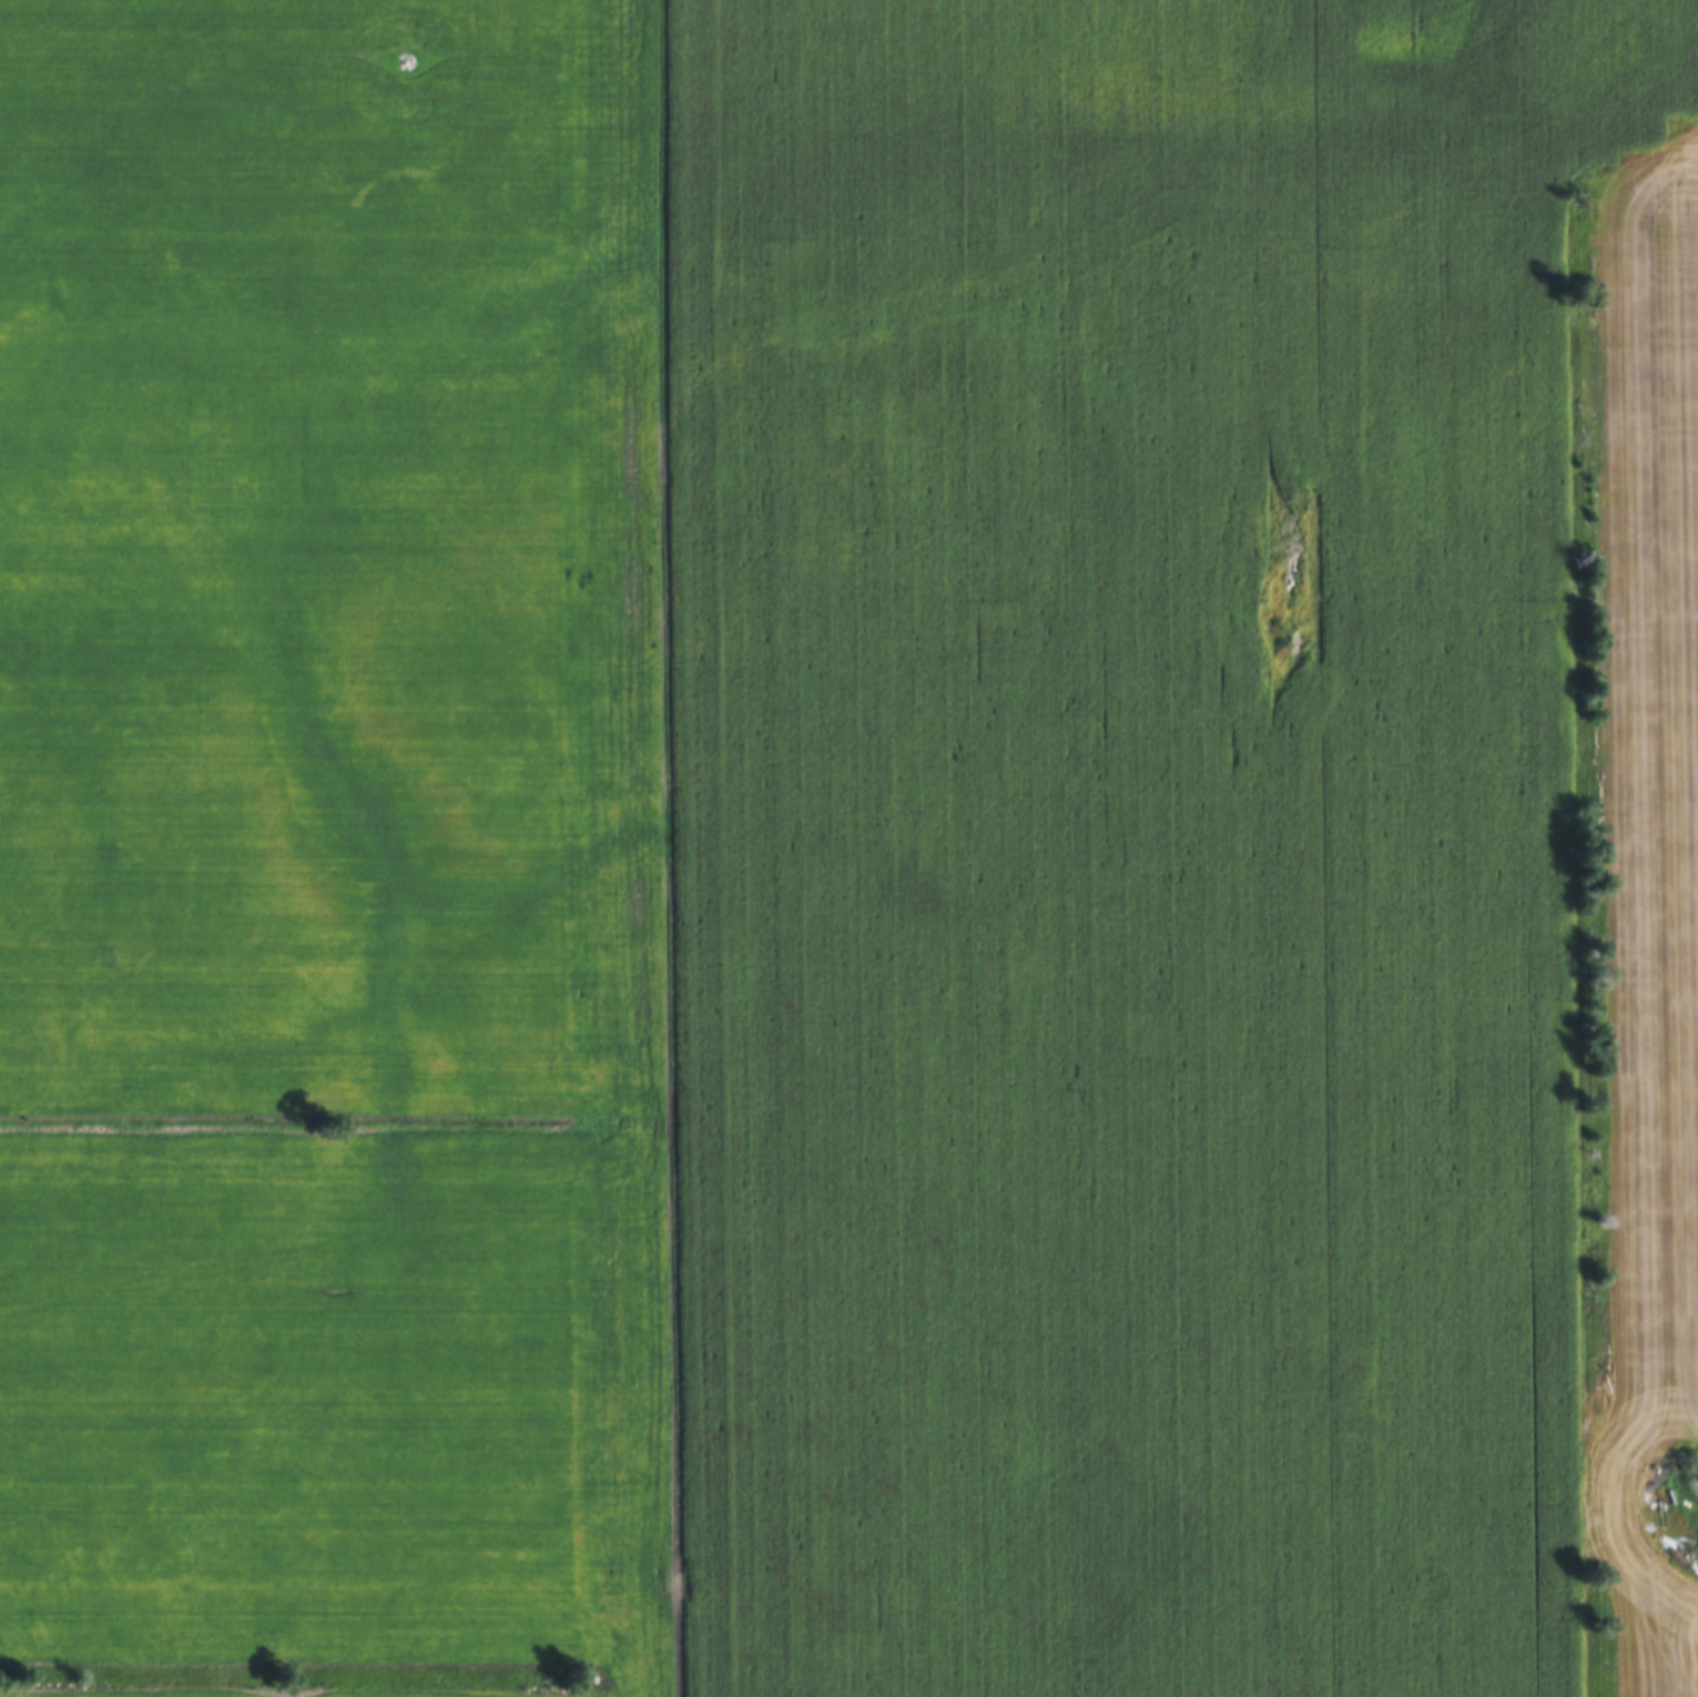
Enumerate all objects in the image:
road: (663, 847)

